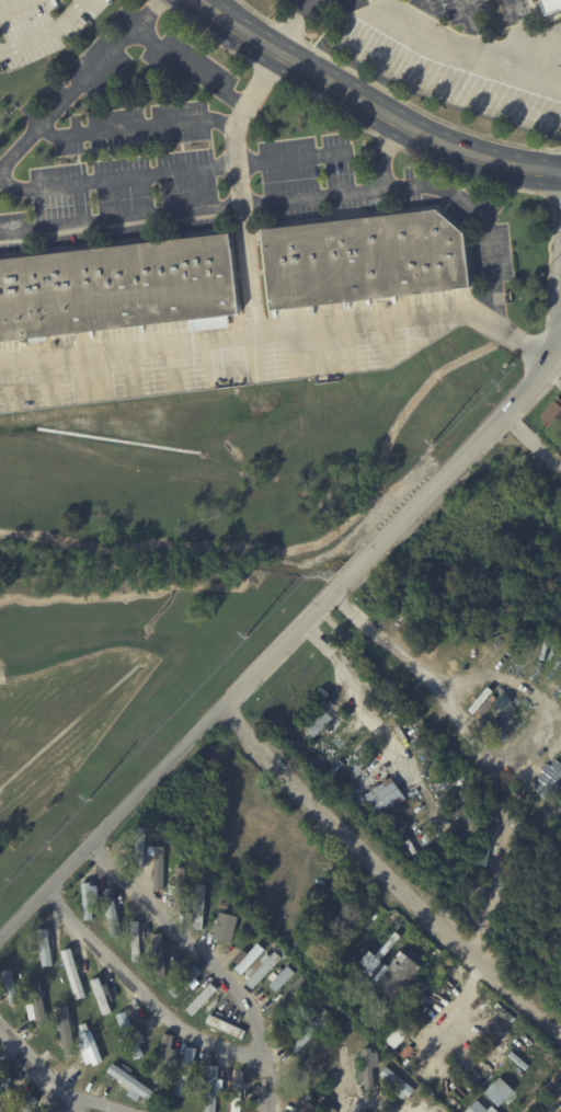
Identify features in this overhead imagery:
road: (9, 3)
building: (549, 5)
road: (422, 18)
road: (295, 25)
road: (470, 26)
road: (45, 32)
road: (516, 35)
road: (459, 49)
road: (190, 65)
road: (76, 87)
road: (371, 105)
road: (138, 130)
road: (171, 172)
road: (191, 206)
road: (242, 207)
building: (365, 259)
building: (119, 288)
road: (373, 324)
road: (553, 328)
road: (519, 336)
road: (386, 341)
road: (291, 352)
road: (208, 359)
road: (172, 364)
road: (131, 368)
road: (91, 374)
road: (46, 379)
road: (13, 382)
building: (552, 413)
road: (533, 437)
road: (244, 548)
road: (296, 548)
park: (171, 559)
road: (244, 563)
road: (125, 588)
road: (284, 639)
building: (496, 649)
road: (356, 685)
building: (320, 723)
road: (485, 754)
building: (411, 789)
building: (387, 796)
building: (141, 848)
building: (159, 867)
road: (388, 875)
building: (180, 887)
building: (89, 901)
building: (199, 907)
building: (225, 908)
building: (112, 913)
building: (231, 929)
building: (137, 940)
building: (46, 947)
building: (159, 956)
building: (250, 959)
road: (211, 960)
building: (262, 970)
building: (73, 974)
building: (390, 974)
building: (280, 977)
building: (186, 981)
building: (423, 987)
building: (11, 990)
building: (103, 997)
building: (288, 997)
road: (145, 998)
building: (203, 998)
building: (38, 1007)
building: (333, 1009)
building: (295, 1019)
building: (67, 1024)
building: (225, 1025)
building: (312, 1030)
building: (131, 1034)
building: (397, 1035)
building: (93, 1048)
building: (161, 1058)
building: (313, 1067)
road: (38, 1069)
building: (369, 1069)
building: (348, 1071)
building: (185, 1073)
building: (337, 1075)
building: (237, 1079)
building: (131, 1082)
building: (402, 1082)
building: (4, 1085)
building: (497, 1090)
building: (238, 1097)
building: (210, 1098)
road: (92, 1103)
road: (370, 1103)
building: (28, 1104)
building: (310, 1105)
building: (554, 1105)
building: (477, 1108)
building: (332, 1110)
building: (366, 1111)
building: (559, 1111)

